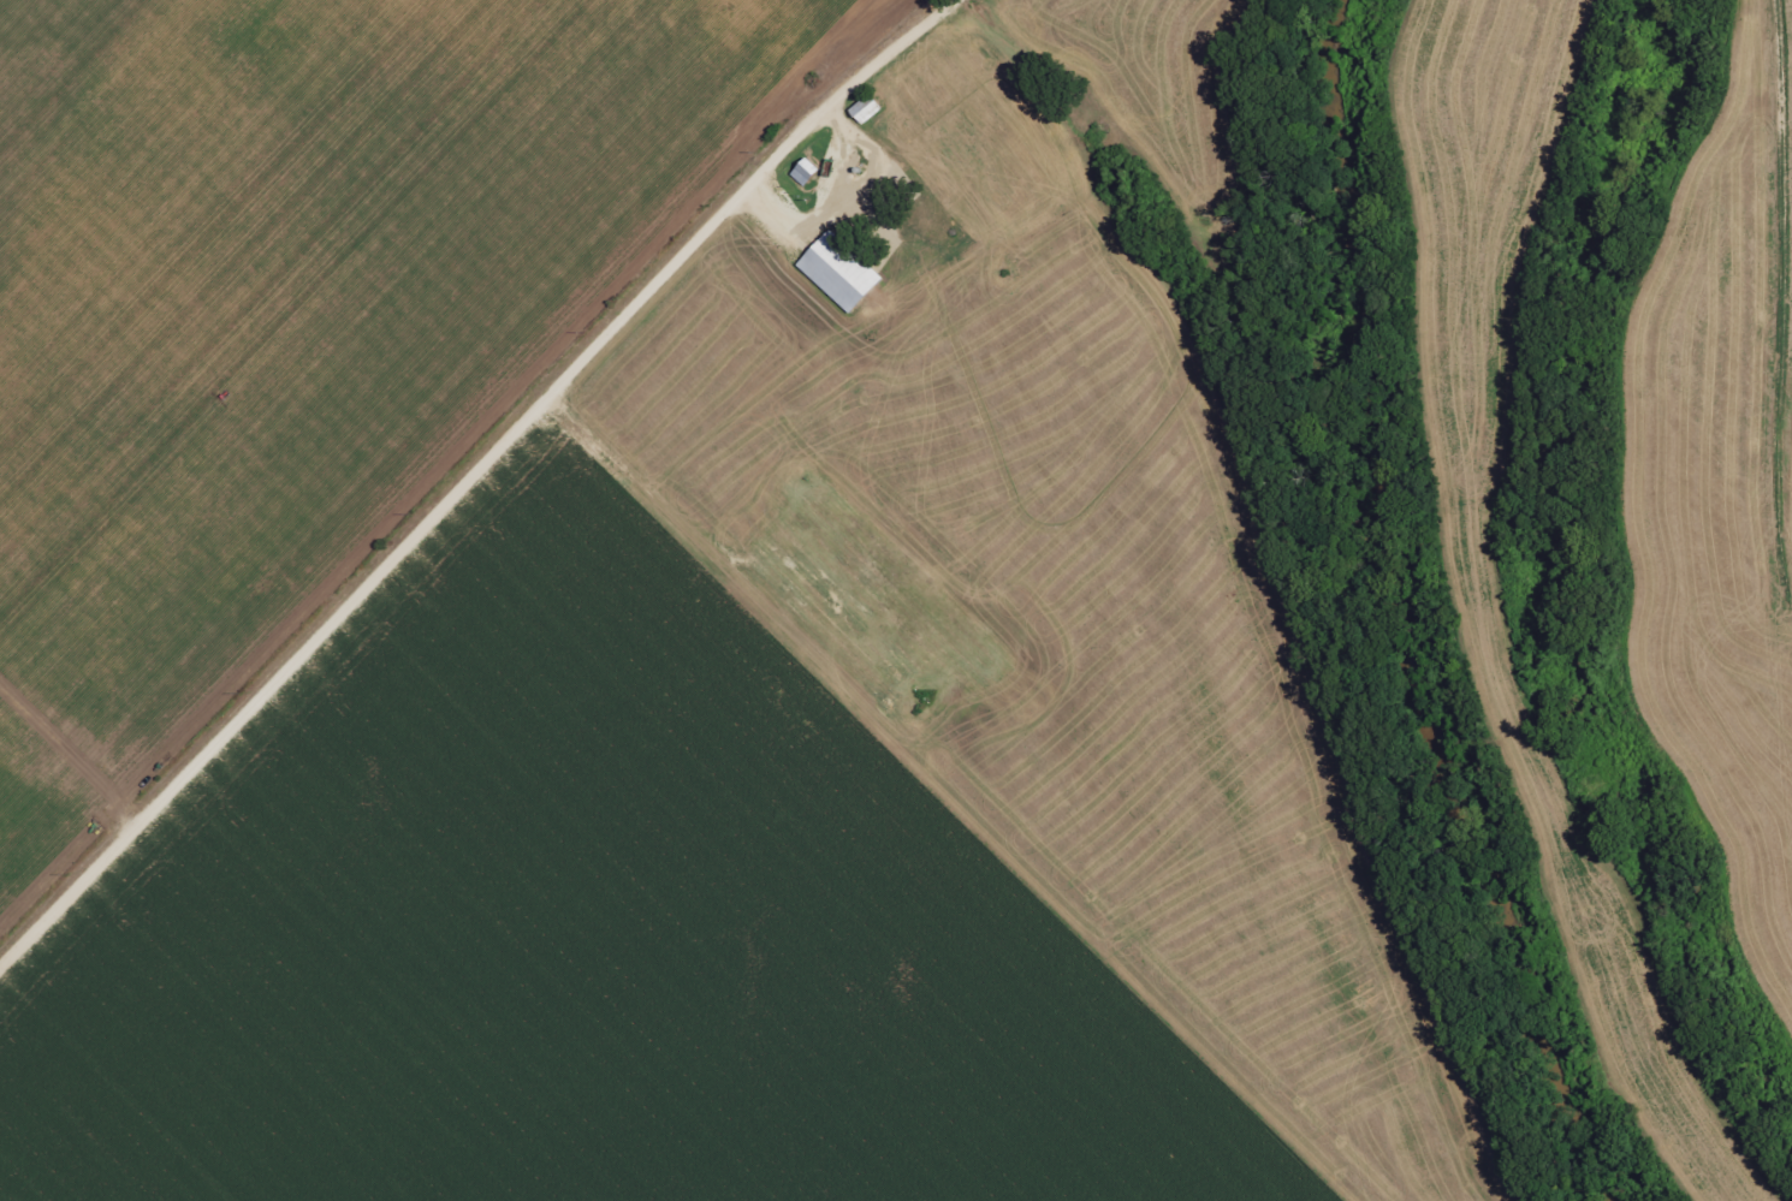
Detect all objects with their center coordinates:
building: (843, 273)
road: (479, 492)

